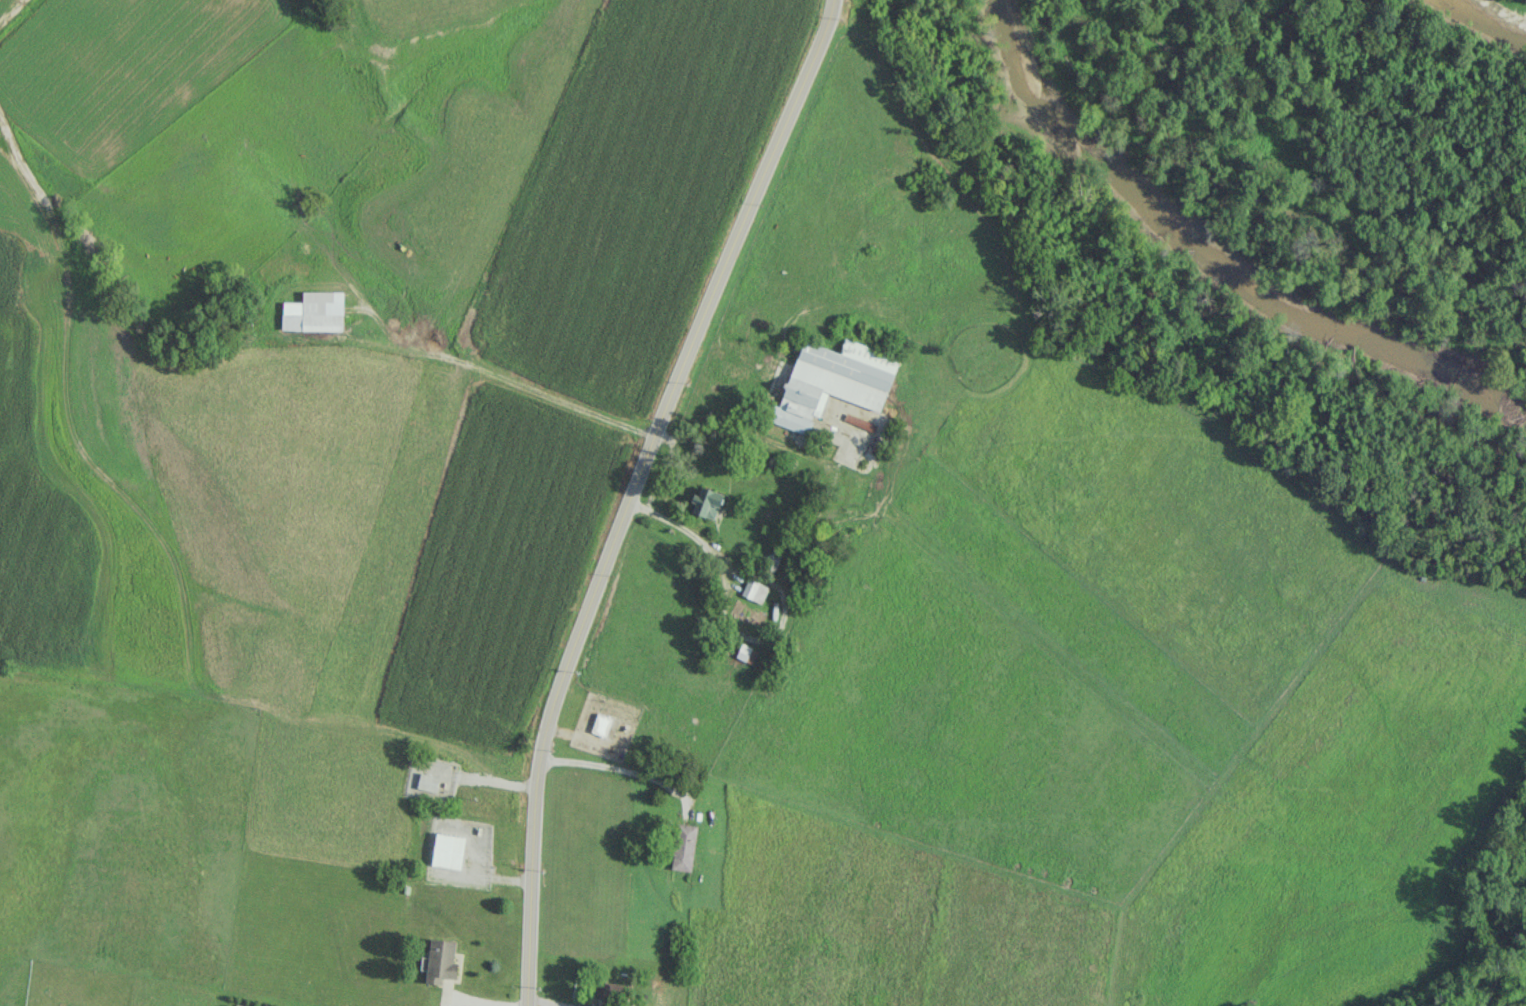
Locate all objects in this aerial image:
river: (1493, 15)
river: (1219, 257)
building: (314, 311)
road: (510, 379)
building: (833, 381)
road: (632, 491)
building: (706, 502)
road: (779, 588)
building: (754, 590)
building: (746, 653)
building: (601, 724)
road: (615, 766)
building: (683, 847)
building: (448, 850)
building: (441, 960)
road: (541, 1003)

